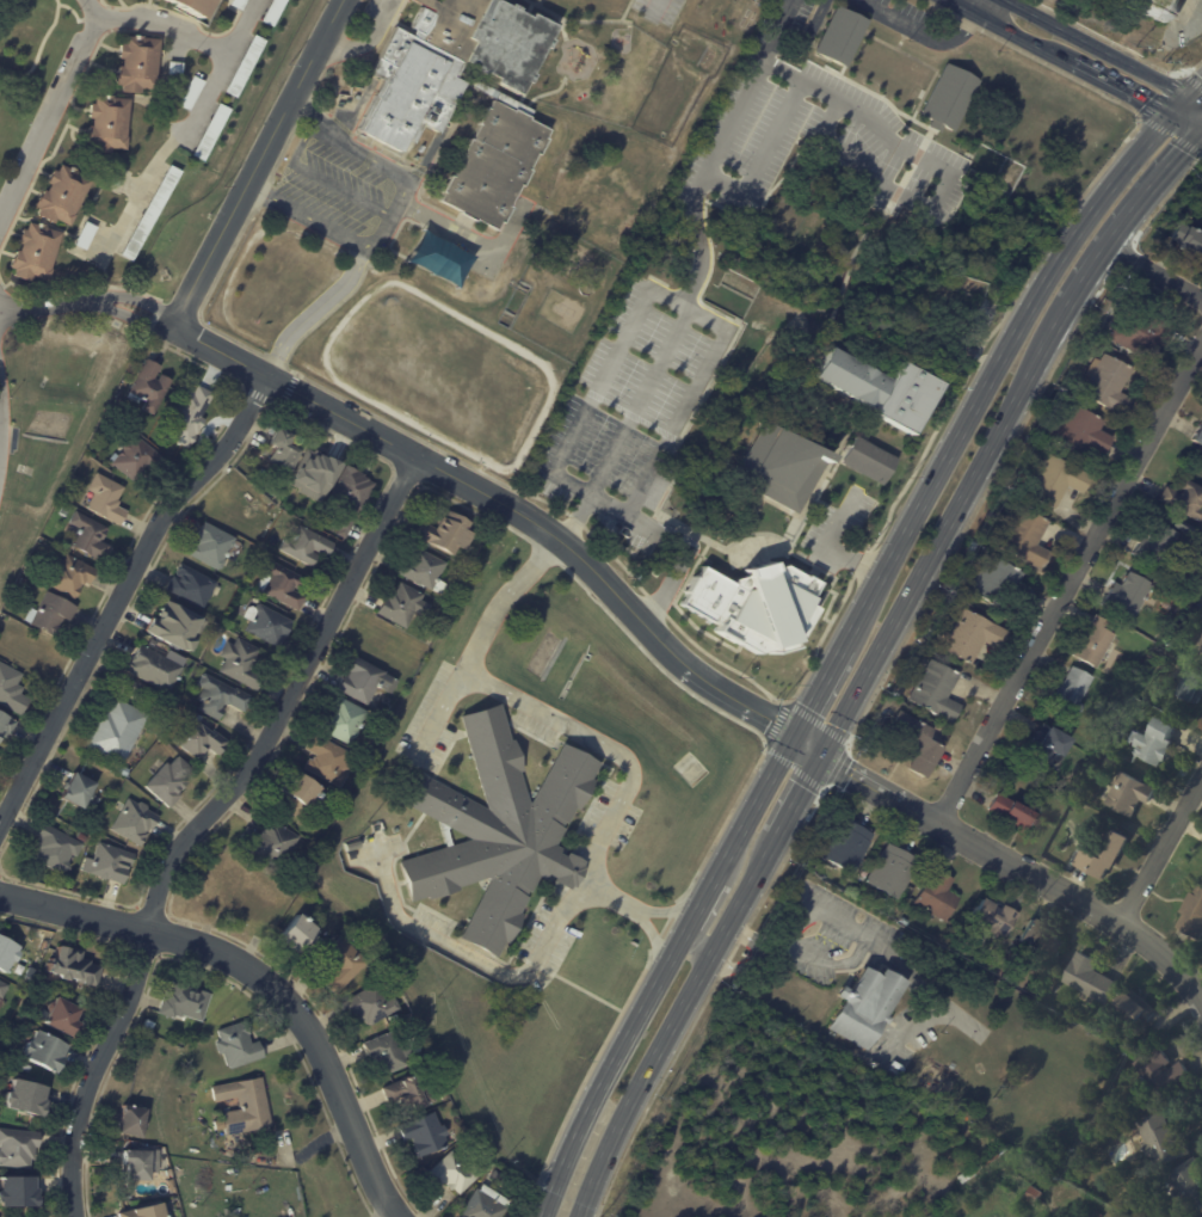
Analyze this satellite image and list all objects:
building: (236, 2)
building: (191, 6)
road: (658, 6)
road: (973, 6)
parking lot: (370, 8)
building: (1160, 8)
parking lot: (658, 10)
building: (271, 11)
parking lot: (902, 18)
road: (165, 25)
road: (918, 31)
building: (837, 36)
road: (369, 39)
road: (1097, 47)
road: (1061, 56)
building: (448, 62)
building: (137, 64)
building: (242, 64)
building: (174, 68)
building: (190, 91)
road: (1190, 93)
building: (948, 98)
traffic signals: (1178, 105)
road: (54, 111)
road: (1190, 111)
road: (876, 122)
building: (109, 124)
building: (209, 129)
road: (183, 133)
parking lot: (814, 134)
road: (762, 155)
road: (259, 160)
building: (492, 164)
road: (386, 168)
road: (862, 172)
building: (118, 178)
road: (325, 178)
parking lot: (331, 191)
building: (61, 196)
building: (150, 208)
road: (1130, 215)
road: (309, 219)
building: (82, 234)
building: (1188, 240)
building: (33, 253)
building: (162, 272)
road: (698, 272)
road: (1155, 275)
road: (87, 299)
road: (672, 305)
road: (312, 315)
building: (1136, 332)
road: (806, 345)
road: (994, 362)
building: (1109, 385)
building: (876, 386)
building: (150, 387)
park: (799, 400)
parking lot: (634, 411)
building: (190, 416)
building: (757, 416)
building: (1080, 432)
building: (1196, 436)
building: (284, 450)
building: (138, 459)
building: (868, 459)
building: (781, 466)
building: (312, 473)
building: (76, 479)
building: (1055, 480)
building: (350, 497)
building: (109, 498)
building: (1184, 499)
building: (66, 511)
road: (945, 527)
building: (1181, 527)
parking lot: (838, 528)
building: (449, 533)
building: (92, 536)
building: (1024, 539)
road: (678, 543)
building: (1152, 543)
building: (214, 546)
building: (308, 546)
road: (827, 548)
building: (427, 570)
building: (31, 571)
road: (532, 571)
building: (1160, 573)
building: (72, 576)
building: (24, 582)
building: (997, 584)
building: (193, 585)
building: (284, 585)
building: (1195, 588)
road: (121, 591)
road: (1075, 594)
building: (1126, 594)
building: (754, 604)
building: (406, 606)
building: (1195, 607)
building: (51, 613)
building: (269, 623)
building: (178, 625)
building: (964, 635)
building: (1092, 641)
building: (1198, 654)
building: (244, 663)
road: (682, 663)
building: (155, 668)
building: (366, 680)
road: (818, 687)
building: (1190, 688)
building: (12, 689)
building: (933, 689)
building: (1068, 692)
building: (222, 696)
road: (440, 713)
building: (345, 720)
building: (6, 725)
building: (118, 731)
traffic signals: (793, 734)
road: (586, 738)
building: (199, 739)
building: (912, 742)
building: (1154, 743)
traffic signals: (824, 750)
building: (1046, 751)
building: (329, 761)
building: (125, 770)
building: (1007, 779)
building: (171, 782)
building: (82, 791)
building: (303, 793)
road: (799, 795)
building: (1128, 795)
building: (1009, 812)
road: (201, 820)
building: (136, 825)
building: (501, 831)
building: (84, 837)
building: (271, 843)
building: (356, 844)
building: (844, 844)
building: (57, 849)
road: (1164, 850)
building: (1101, 855)
building: (111, 863)
building: (892, 871)
building: (935, 895)
building: (884, 896)
road: (660, 911)
building: (991, 915)
building: (1192, 916)
road: (695, 922)
road: (651, 927)
building: (300, 936)
building: (1036, 938)
building: (7, 953)
road: (481, 960)
building: (344, 964)
building: (73, 966)
road: (659, 972)
building: (31, 973)
road: (261, 977)
building: (1089, 979)
building: (4, 986)
building: (186, 1001)
building: (863, 1004)
building: (372, 1006)
building: (1132, 1007)
building: (66, 1013)
building: (152, 1024)
road: (672, 1026)
building: (1140, 1043)
building: (239, 1045)
building: (45, 1051)
building: (393, 1052)
building: (27, 1067)
building: (1157, 1070)
building: (411, 1094)
building: (444, 1094)
building: (26, 1095)
building: (244, 1105)
building: (951, 1110)
building: (961, 1114)
building: (132, 1120)
building: (427, 1135)
building: (1159, 1138)
building: (18, 1147)
building: (981, 1162)
building: (141, 1163)
building: (491, 1166)
building: (169, 1172)
building: (454, 1174)
building: (1186, 1185)
building: (173, 1187)
building: (18, 1191)
building: (1031, 1194)
building: (487, 1204)
building: (938, 1210)
building: (149, 1211)

